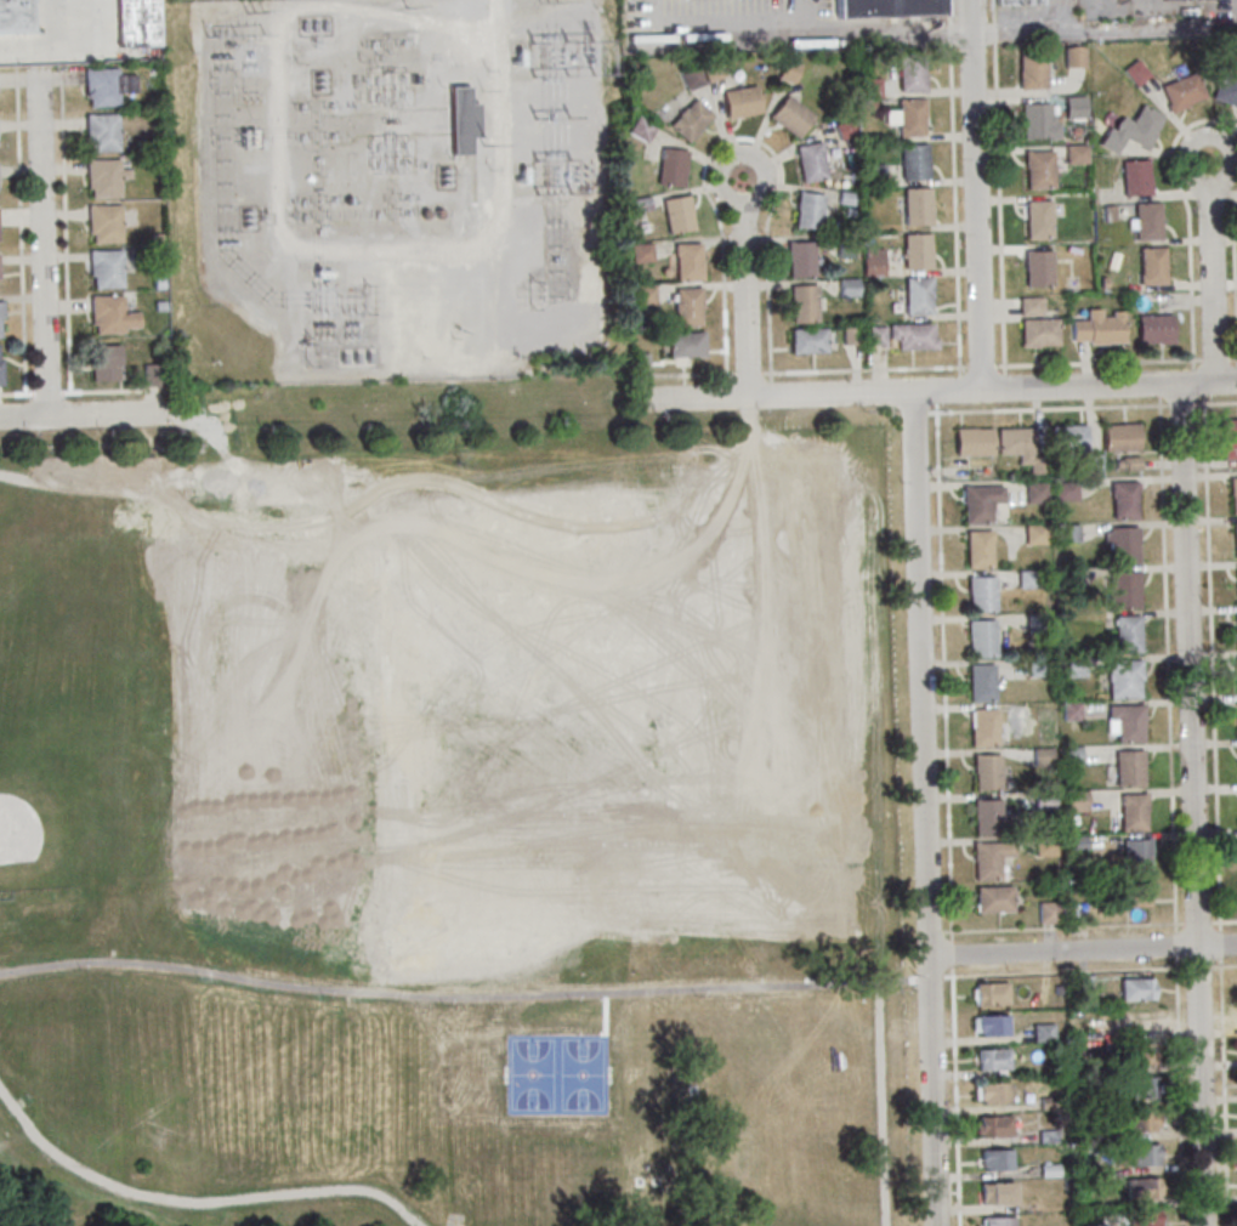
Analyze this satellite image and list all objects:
building: (1016, 2)
road: (1154, 7)
building: (889, 8)
road: (991, 11)
road: (948, 12)
road: (1235, 12)
road: (798, 13)
road: (1050, 15)
building: (15, 16)
building: (136, 23)
road: (46, 24)
parking lot: (724, 24)
road: (709, 27)
road: (1103, 28)
road: (992, 33)
road: (949, 35)
road: (883, 39)
road: (68, 47)
road: (117, 52)
building: (1073, 57)
building: (151, 68)
building: (790, 69)
building: (715, 70)
building: (1029, 72)
building: (1134, 72)
building: (692, 74)
building: (913, 75)
building: (103, 86)
building: (872, 87)
building: (1225, 90)
building: (1180, 92)
building: (742, 102)
building: (869, 104)
building: (1073, 107)
building: (791, 117)
building: (909, 117)
building: (459, 120)
building: (691, 120)
building: (1037, 121)
building: (642, 127)
building: (845, 129)
building: (1130, 130)
building: (98, 132)
road: (741, 137)
road: (1222, 140)
building: (1074, 154)
building: (812, 161)
building: (915, 161)
building: (673, 165)
building: (1037, 170)
building: (875, 174)
building: (102, 177)
building: (1134, 177)
road: (495, 181)
power substation: (391, 189)
road: (975, 194)
building: (847, 197)
building: (642, 203)
building: (919, 205)
road: (998, 208)
building: (808, 209)
road: (955, 210)
building: (851, 211)
building: (679, 212)
road: (1187, 215)
building: (1037, 220)
building: (1145, 222)
building: (102, 223)
road: (274, 228)
building: (153, 237)
road: (41, 244)
building: (846, 248)
building: (918, 250)
building: (641, 251)
building: (802, 257)
building: (688, 260)
building: (874, 261)
building: (1150, 266)
building: (103, 268)
building: (1035, 268)
road: (1233, 274)
building: (155, 282)
building: (1101, 282)
road: (1210, 283)
building: (849, 285)
road: (744, 286)
building: (0, 290)
building: (645, 294)
building: (919, 294)
building: (805, 302)
building: (157, 305)
building: (687, 305)
building: (1028, 306)
building: (108, 314)
building: (1, 318)
building: (1096, 328)
building: (1153, 329)
building: (1037, 331)
building: (851, 334)
building: (876, 335)
building: (913, 335)
building: (811, 340)
building: (687, 342)
road: (1214, 358)
road: (1232, 358)
building: (642, 361)
road: (1099, 362)
building: (102, 363)
building: (1, 364)
road: (982, 365)
road: (866, 369)
road: (748, 373)
road: (683, 374)
building: (152, 375)
road: (1005, 381)
road: (1198, 381)
road: (772, 388)
road: (948, 388)
road: (727, 390)
road: (1162, 391)
road: (75, 392)
road: (935, 392)
road: (892, 398)
road: (152, 401)
road: (1216, 402)
building: (193, 403)
road: (1184, 403)
road: (1048, 408)
road: (892, 413)
road: (914, 413)
road: (83, 416)
road: (748, 431)
building: (1069, 436)
building: (1122, 436)
building: (1230, 437)
building: (975, 439)
building: (1022, 447)
building: (1094, 462)
building: (1128, 462)
road: (776, 472)
road: (183, 473)
building: (1066, 490)
building: (1037, 492)
building: (1235, 493)
building: (1125, 498)
building: (981, 501)
building: (1035, 533)
building: (1069, 533)
building: (1236, 539)
building: (1123, 543)
park: (16, 545)
building: (980, 547)
building: (1066, 578)
building: (1028, 579)
building: (1124, 589)
building: (982, 592)
building: (1035, 623)
building: (1128, 632)
building: (982, 637)
road: (1212, 662)
building: (1040, 666)
building: (1076, 666)
road: (944, 671)
road: (1167, 677)
building: (1124, 679)
building: (981, 681)
building: (1072, 710)
building: (1125, 722)
building: (983, 726)
building: (1073, 755)
building: (1042, 756)
building: (1129, 767)
building: (987, 771)
park: (57, 799)
building: (1043, 800)
building: (1076, 800)
road: (1192, 805)
road: (924, 808)
building: (1133, 811)
park: (458, 813)
building: (986, 815)
building: (1077, 841)
building: (1045, 845)
building: (1136, 856)
building: (987, 859)
building: (1129, 895)
building: (994, 898)
building: (1049, 912)
road: (1222, 921)
road: (1196, 923)
road: (1062, 926)
road: (935, 932)
road: (1219, 942)
road: (1082, 948)
road: (952, 953)
road: (1224, 965)
road: (1197, 966)
road: (1063, 971)
road: (936, 976)
road: (554, 982)
building: (1082, 984)
building: (1137, 988)
building: (1059, 991)
building: (991, 992)
road: (463, 995)
road: (606, 1014)
road: (773, 1016)
building: (1133, 1018)
building: (991, 1023)
building: (1044, 1032)
building: (1106, 1054)
building: (993, 1057)
building: (777, 1060)
park: (556, 1073)
building: (1142, 1086)
road: (1222, 1090)
building: (995, 1091)
road: (1180, 1091)
road: (955, 1096)
building: (1050, 1103)
building: (1141, 1119)
building: (994, 1125)
building: (1048, 1135)
building: (1145, 1153)
building: (997, 1159)
building: (1050, 1169)
building: (1142, 1188)
building: (998, 1192)
road: (195, 1201)
building: (1146, 1218)
building: (999, 1221)
building: (1095, 1225)

